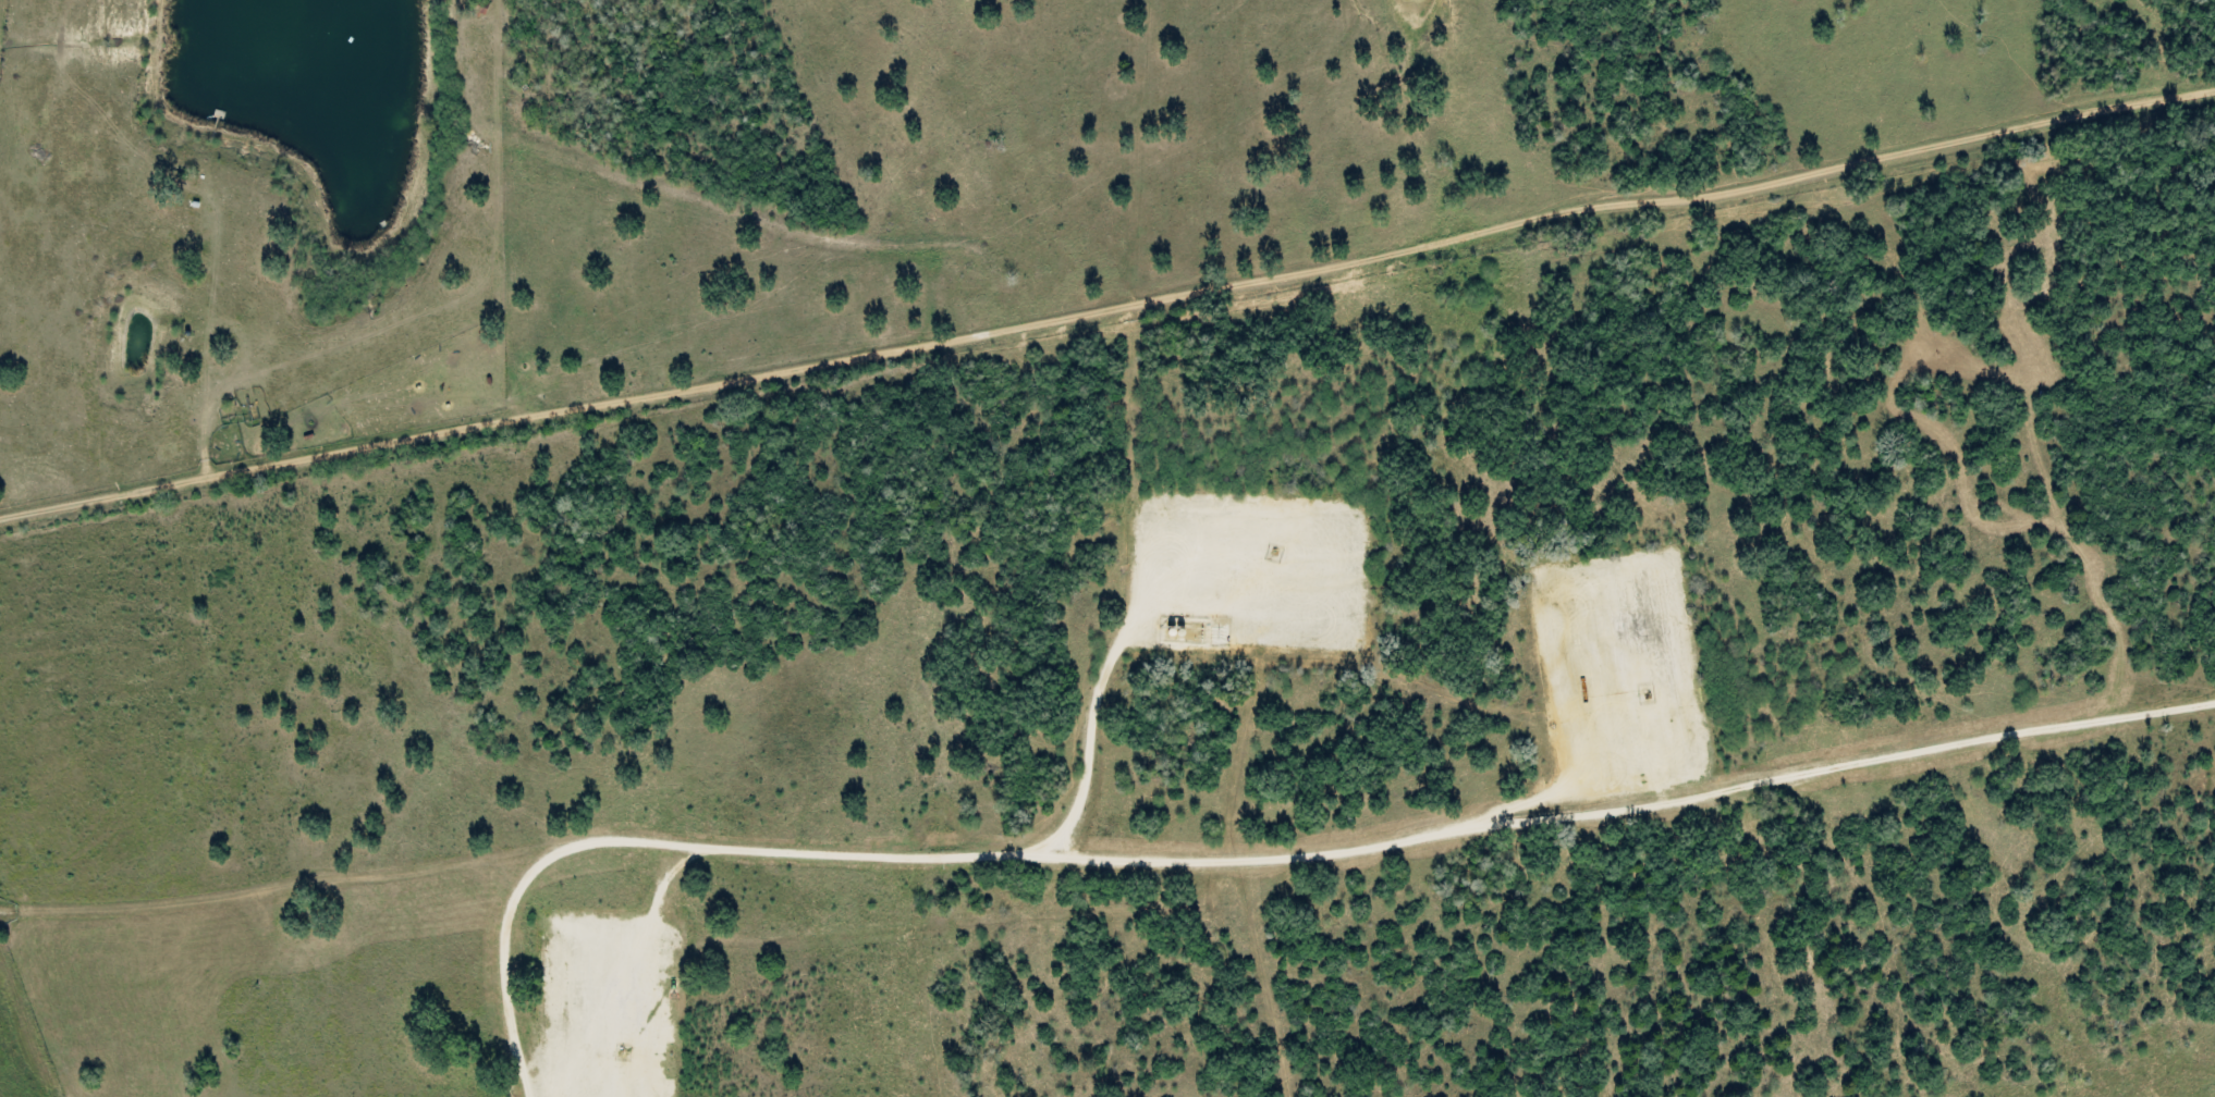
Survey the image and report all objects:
road: (649, 836)
road: (1112, 873)
road: (0, 911)

